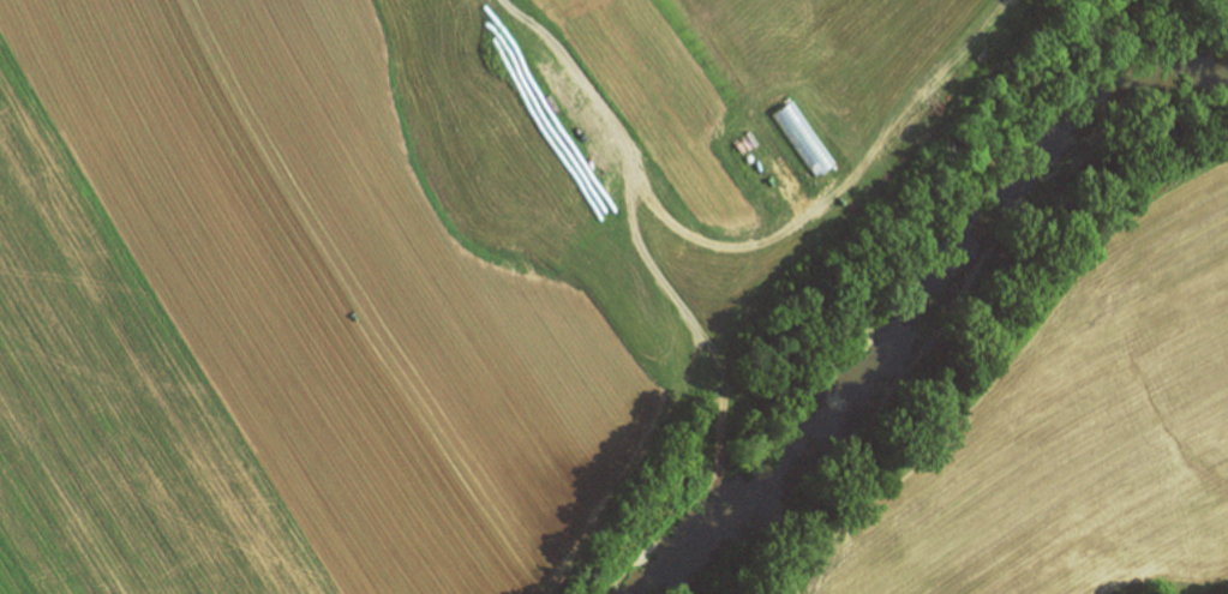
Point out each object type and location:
building: (805, 138)
road: (633, 175)
river: (918, 278)
road: (719, 455)

